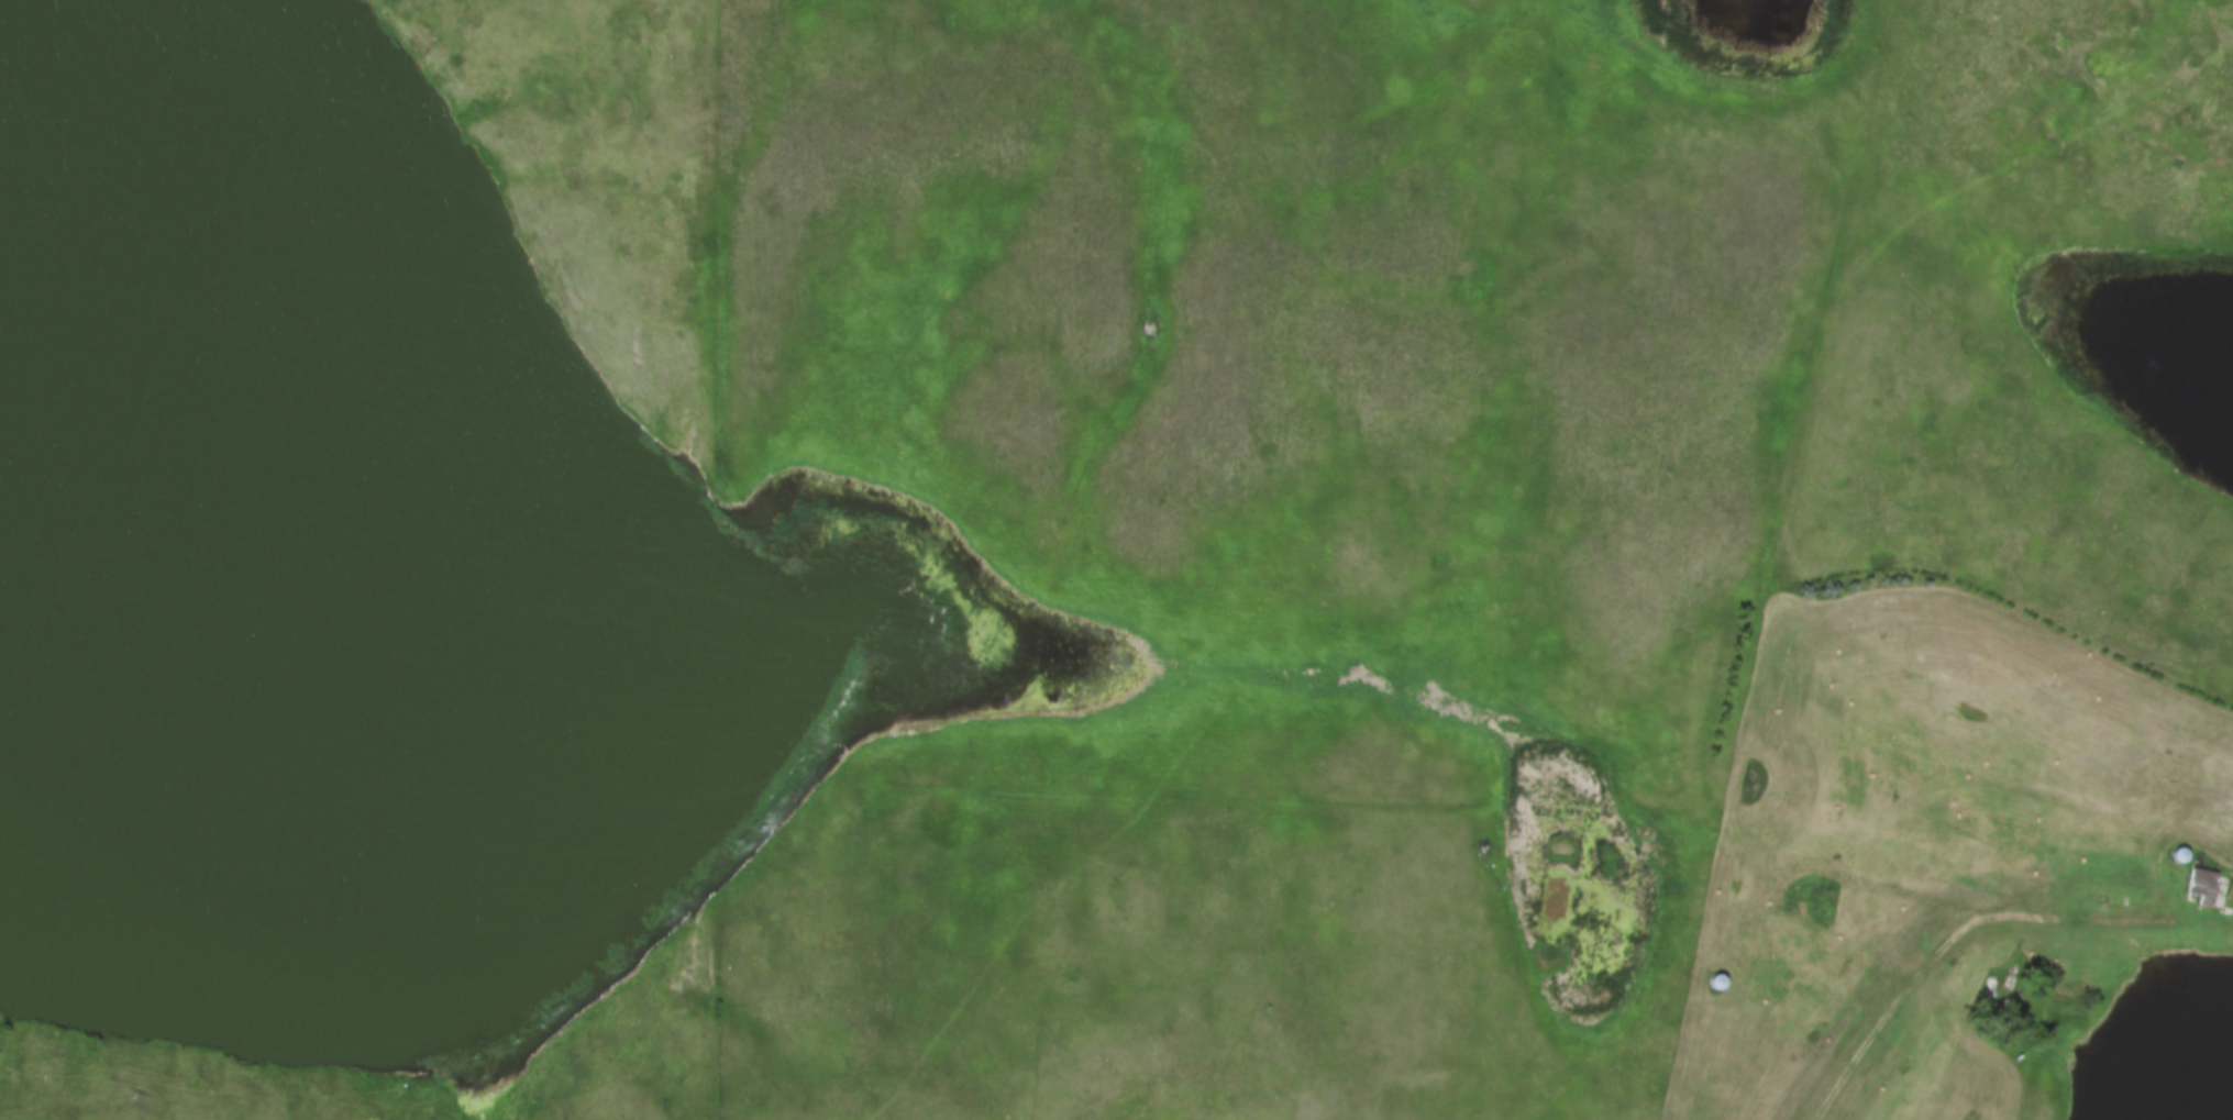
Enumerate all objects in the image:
road: (1760, 601)
building: (2188, 856)
silo: (2188, 856)
building: (2203, 886)
building: (1788, 897)
building: (1814, 903)
road: (1978, 921)
building: (1716, 983)
silo: (1716, 983)
building: (1975, 1035)
silo: (1975, 1035)
building: (1972, 1050)
silo: (1972, 1050)
building: (2018, 1058)
silo: (2018, 1058)

